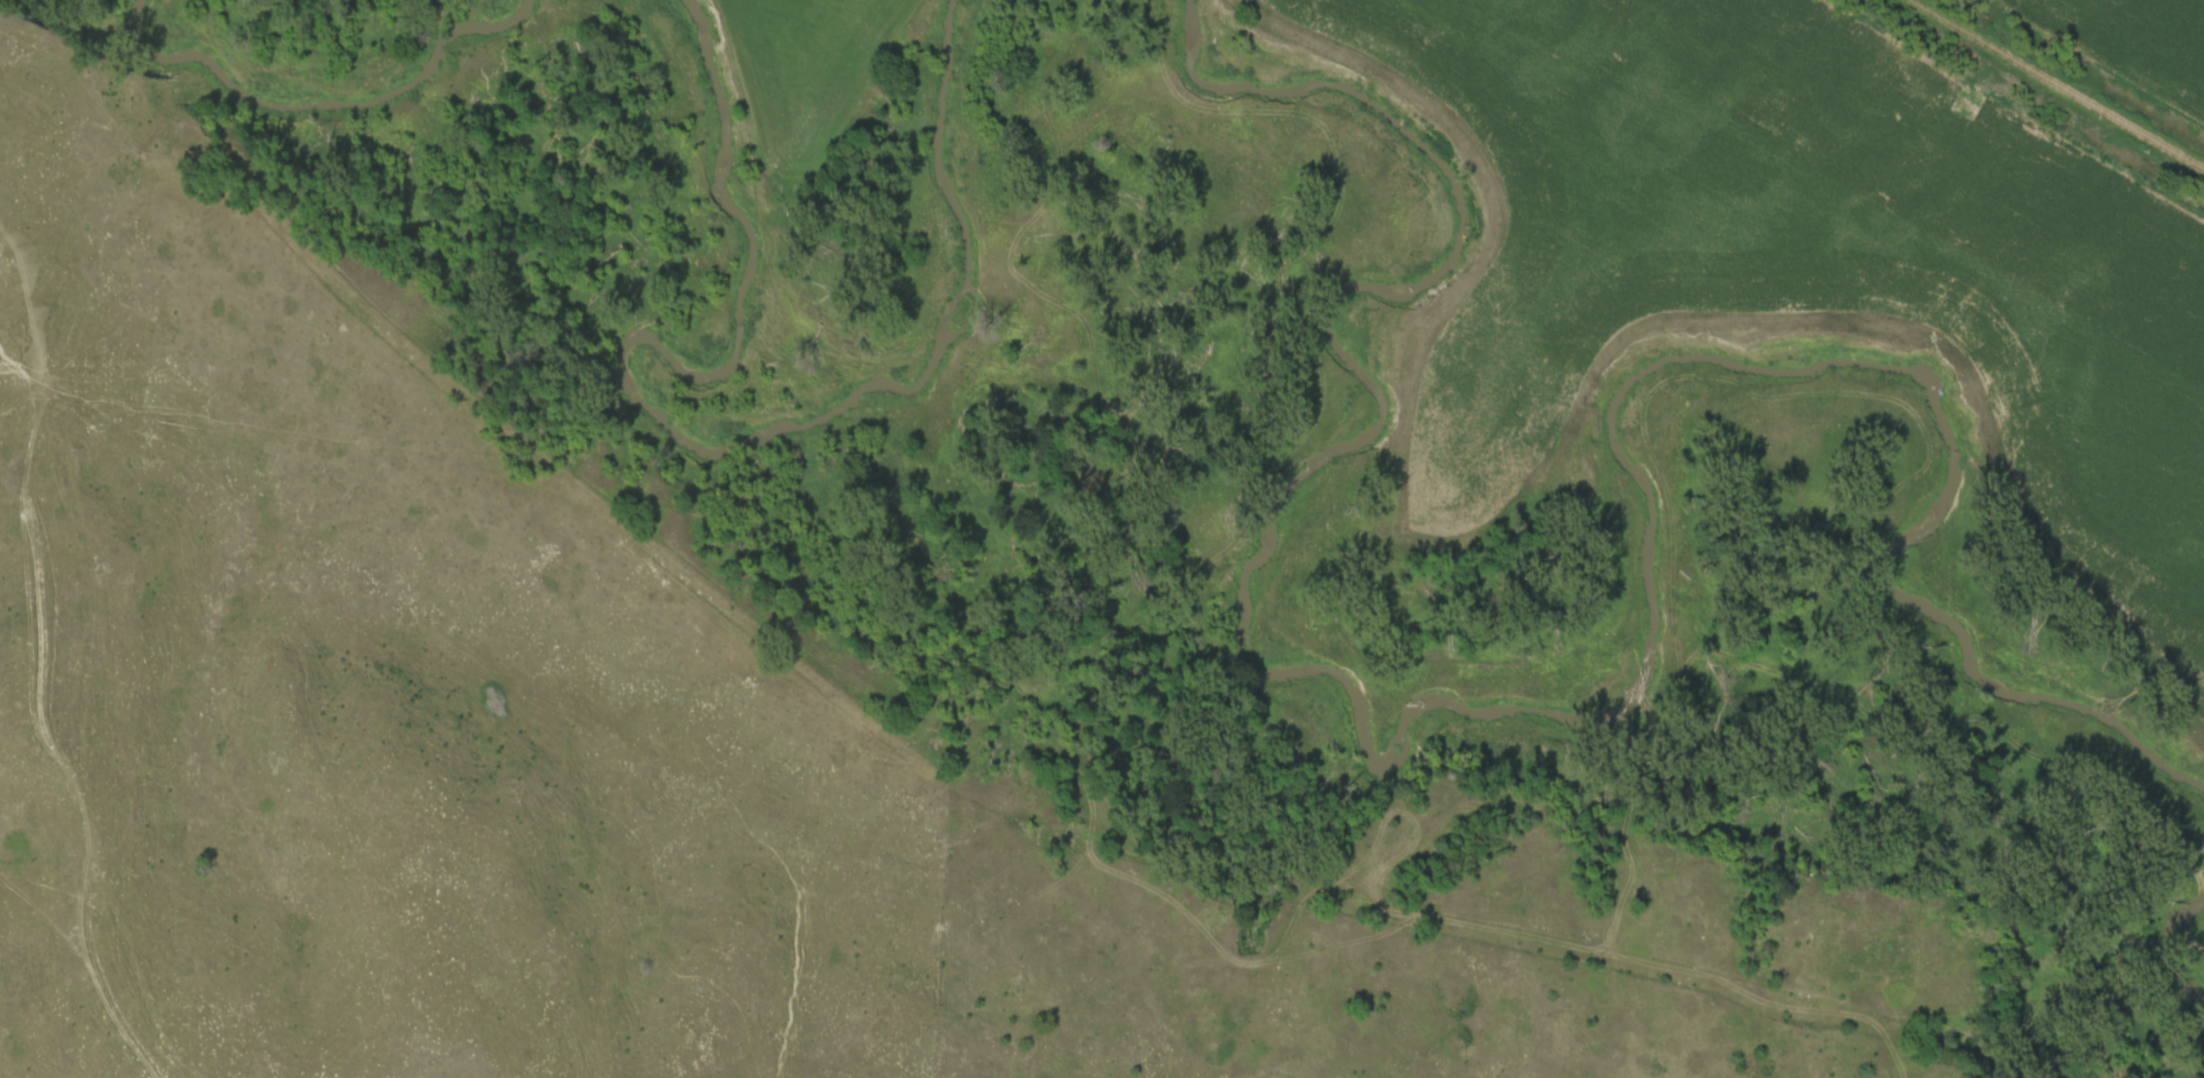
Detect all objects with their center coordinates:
crop: (2146, 33)
railway: (2063, 80)

